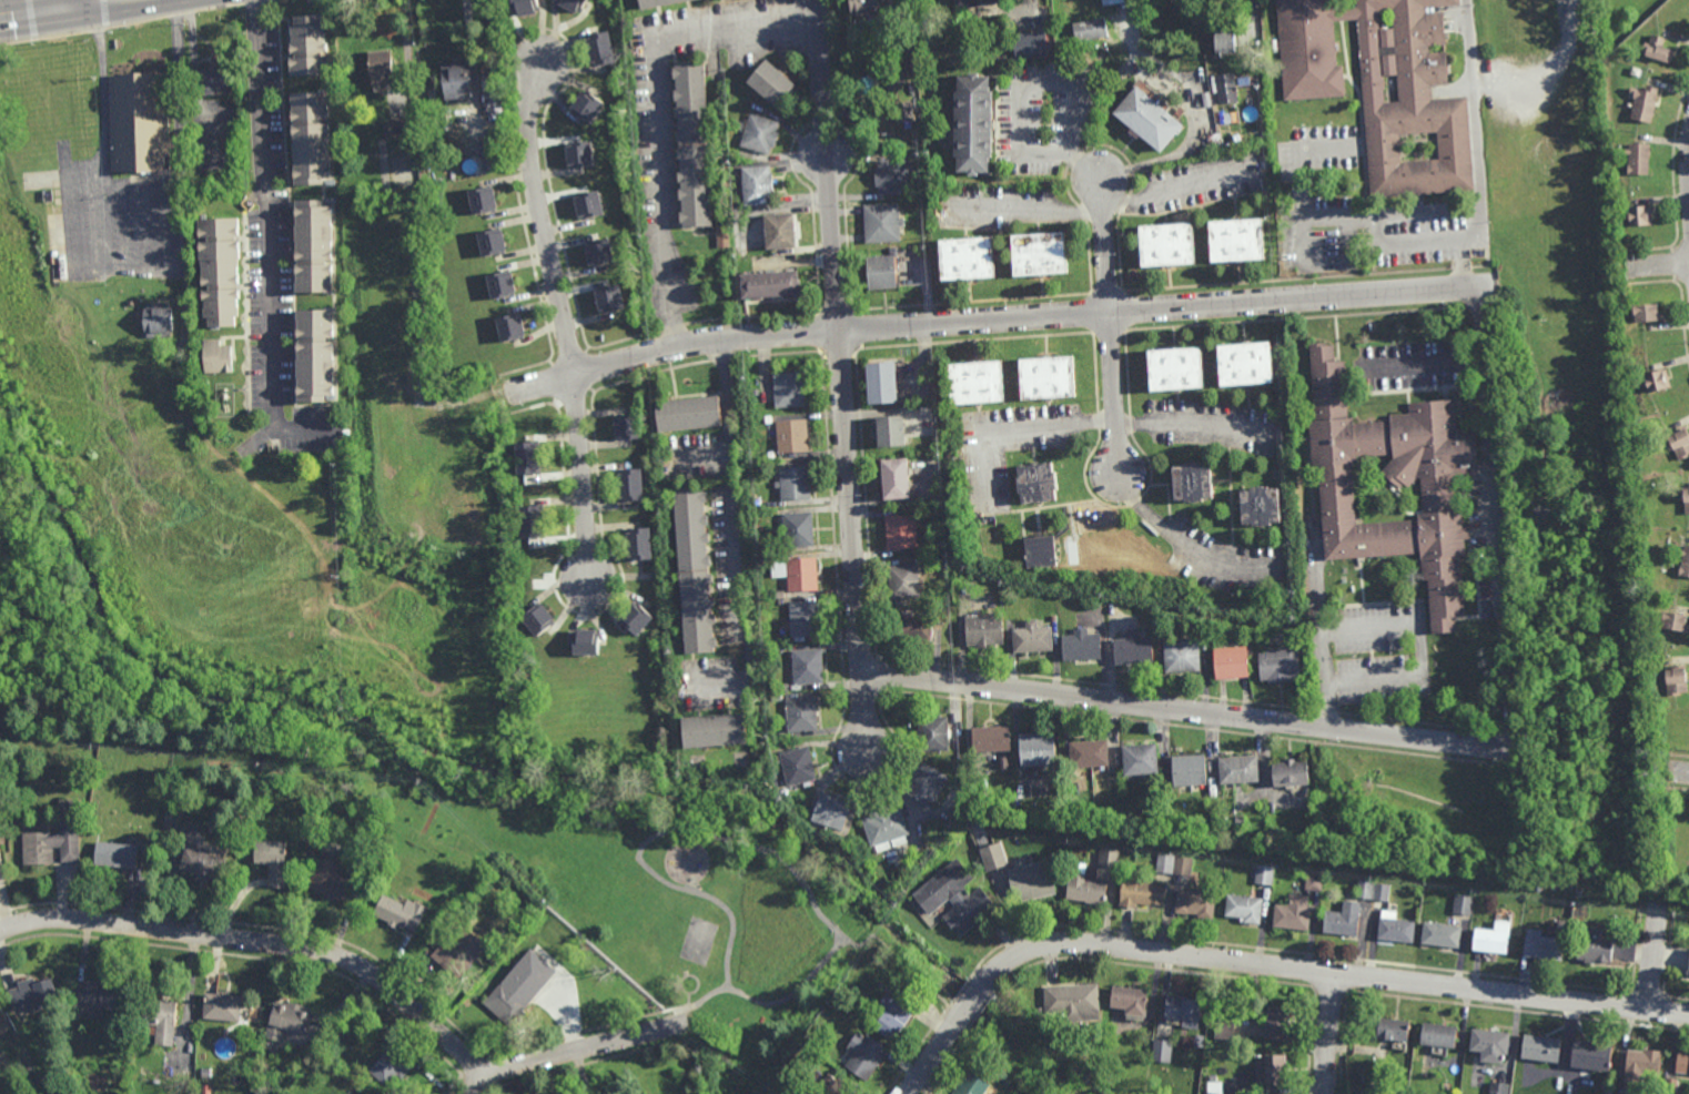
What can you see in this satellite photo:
building: (859, 1)
building: (1113, 2)
road: (95, 3)
building: (653, 3)
building: (974, 3)
road: (65, 4)
road: (68, 4)
building: (569, 4)
building: (522, 8)
road: (1254, 8)
traffic signals: (68, 9)
road: (33, 13)
building: (1528, 21)
building: (1089, 28)
building: (1164, 36)
building: (1224, 39)
building: (1030, 43)
building: (306, 48)
building: (597, 49)
building: (1658, 50)
building: (380, 65)
road: (1546, 67)
building: (215, 79)
building: (492, 79)
road: (897, 80)
road: (1046, 80)
building: (453, 81)
building: (768, 84)
building: (1380, 85)
building: (1224, 87)
road: (1474, 103)
building: (60, 107)
building: (584, 107)
building: (1641, 107)
building: (903, 110)
road: (660, 111)
building: (1230, 113)
building: (1145, 119)
building: (138, 123)
building: (968, 123)
building: (397, 126)
building: (758, 135)
building: (307, 139)
building: (1236, 139)
building: (1223, 140)
building: (1214, 141)
building: (690, 144)
road: (1173, 153)
building: (577, 155)
building: (1636, 161)
road: (825, 164)
building: (891, 176)
road: (141, 182)
building: (755, 186)
building: (1351, 186)
road: (1174, 189)
road: (1299, 193)
building: (481, 201)
building: (586, 205)
road: (1025, 210)
road: (1371, 215)
building: (1638, 216)
building: (880, 223)
road: (1478, 225)
road: (104, 226)
road: (144, 226)
building: (777, 231)
building: (722, 236)
road: (416, 237)
building: (1233, 240)
building: (488, 241)
road: (1301, 241)
road: (265, 243)
building: (1161, 244)
building: (311, 247)
road: (1462, 249)
building: (596, 253)
building: (1035, 254)
road: (1630, 257)
building: (963, 259)
road: (1659, 263)
road: (107, 271)
road: (1462, 271)
road: (1561, 272)
building: (877, 273)
building: (216, 274)
building: (766, 284)
building: (499, 285)
building: (609, 298)
building: (1644, 314)
road: (562, 316)
road: (990, 318)
building: (158, 320)
road: (1110, 326)
building: (508, 330)
building: (185, 347)
building: (311, 356)
building: (215, 358)
road: (1424, 363)
building: (180, 366)
building: (1243, 366)
building: (1174, 369)
building: (1044, 378)
building: (1655, 382)
building: (881, 384)
building: (971, 385)
building: (787, 391)
building: (755, 392)
building: (685, 415)
building: (768, 418)
road: (1186, 426)
building: (626, 427)
road: (1021, 427)
building: (887, 433)
building: (791, 437)
building: (1678, 444)
building: (770, 455)
road: (705, 457)
building: (524, 460)
building: (760, 466)
building: (892, 480)
building: (628, 484)
building: (1033, 484)
building: (1190, 484)
building: (792, 485)
building: (1394, 485)
building: (1683, 500)
building: (756, 502)
building: (1257, 508)
road: (1496, 517)
building: (529, 524)
building: (796, 530)
building: (899, 533)
road: (737, 536)
road: (851, 538)
road: (1179, 541)
building: (637, 546)
building: (1038, 553)
building: (938, 558)
building: (1683, 564)
building: (690, 571)
building: (1137, 574)
building: (799, 576)
building: (901, 583)
building: (1072, 597)
building: (634, 618)
building: (1053, 618)
building: (535, 619)
building: (802, 620)
building: (1200, 620)
building: (1672, 622)
building: (910, 628)
road: (1319, 629)
building: (982, 631)
building: (782, 638)
building: (1030, 639)
building: (581, 644)
building: (1080, 647)
building: (1131, 648)
road: (1420, 650)
building: (1180, 657)
building: (1230, 664)
building: (1277, 664)
building: (805, 666)
building: (1673, 681)
building: (778, 686)
road: (1187, 709)
building: (799, 716)
building: (710, 731)
building: (931, 733)
building: (988, 740)
building: (1034, 750)
building: (1086, 756)
building: (1137, 760)
building: (1004, 764)
building: (796, 767)
building: (1236, 770)
road: (1676, 771)
building: (1186, 772)
building: (1288, 773)
building: (923, 784)
building: (829, 812)
building: (1, 817)
building: (171, 819)
building: (884, 829)
building: (237, 833)
road: (663, 834)
building: (58, 839)
building: (121, 855)
building: (993, 857)
building: (276, 862)
building: (1174, 864)
building: (206, 865)
building: (1264, 874)
building: (333, 881)
building: (1030, 882)
building: (1314, 882)
building: (1083, 885)
building: (458, 888)
building: (1373, 890)
park: (655, 892)
building: (1139, 894)
building: (954, 899)
building: (1194, 904)
building: (1464, 904)
building: (1243, 910)
building: (406, 912)
building: (1293, 915)
building: (1343, 920)
building: (1395, 929)
building: (1439, 935)
building: (1490, 940)
road: (263, 941)
park: (699, 942)
building: (1541, 944)
building: (1594, 948)
building: (462, 951)
road: (1651, 955)
road: (1264, 961)
road: (902, 963)
building: (526, 965)
building: (1688, 969)
building: (32, 993)
road: (793, 995)
building: (98, 997)
building: (1071, 1002)
building: (1129, 1002)
building: (509, 1003)
building: (225, 1009)
building: (1180, 1013)
building: (894, 1015)
building: (161, 1019)
road: (643, 1019)
building: (290, 1023)
building: (351, 1024)
building: (1275, 1024)
building: (1224, 1030)
road: (1327, 1031)
building: (1392, 1032)
building: (1436, 1039)
building: (809, 1041)
building: (1487, 1046)
building: (1539, 1050)
road: (576, 1051)
building: (1162, 1051)
building: (863, 1056)
building: (1589, 1057)
building: (1641, 1062)
building: (1682, 1065)
building: (394, 1066)
building: (28, 1070)
building: (205, 1072)
building: (1270, 1072)
building: (1002, 1074)
building: (155, 1081)
building: (1670, 1085)
road: (452, 1086)
building: (836, 1086)
building: (970, 1086)
building: (1214, 1087)
building: (1497, 1087)
building: (267, 1088)
building: (1375, 1091)
building: (355, 1093)
building: (628, 1093)

